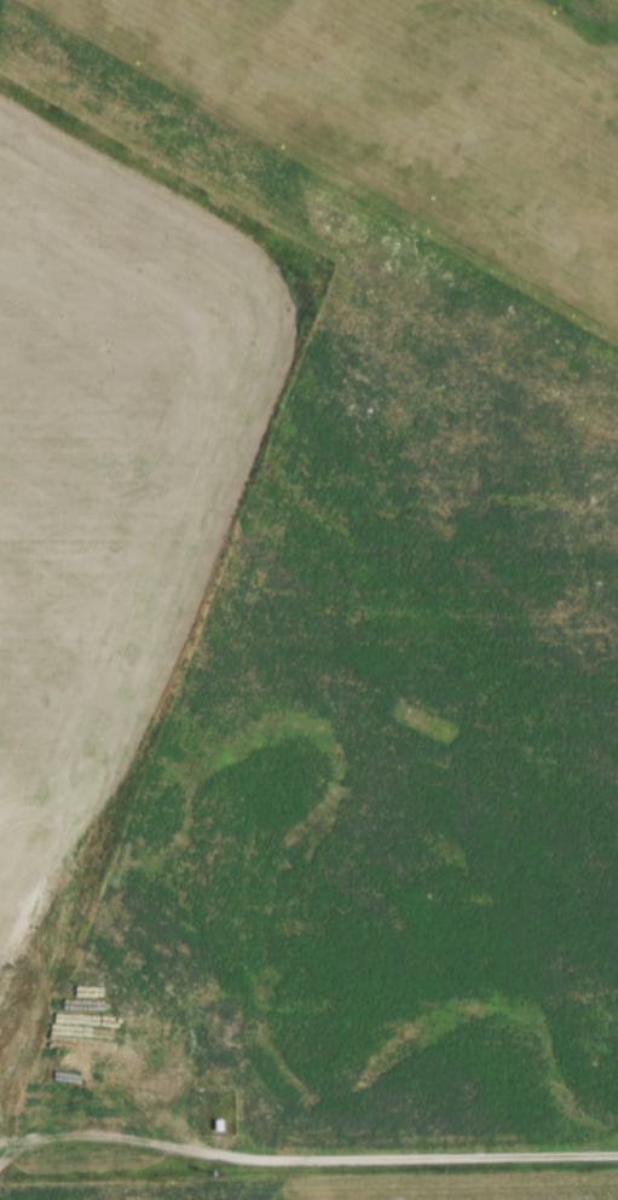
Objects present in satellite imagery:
airport runway: (445, 102)
airport: (389, 146)

